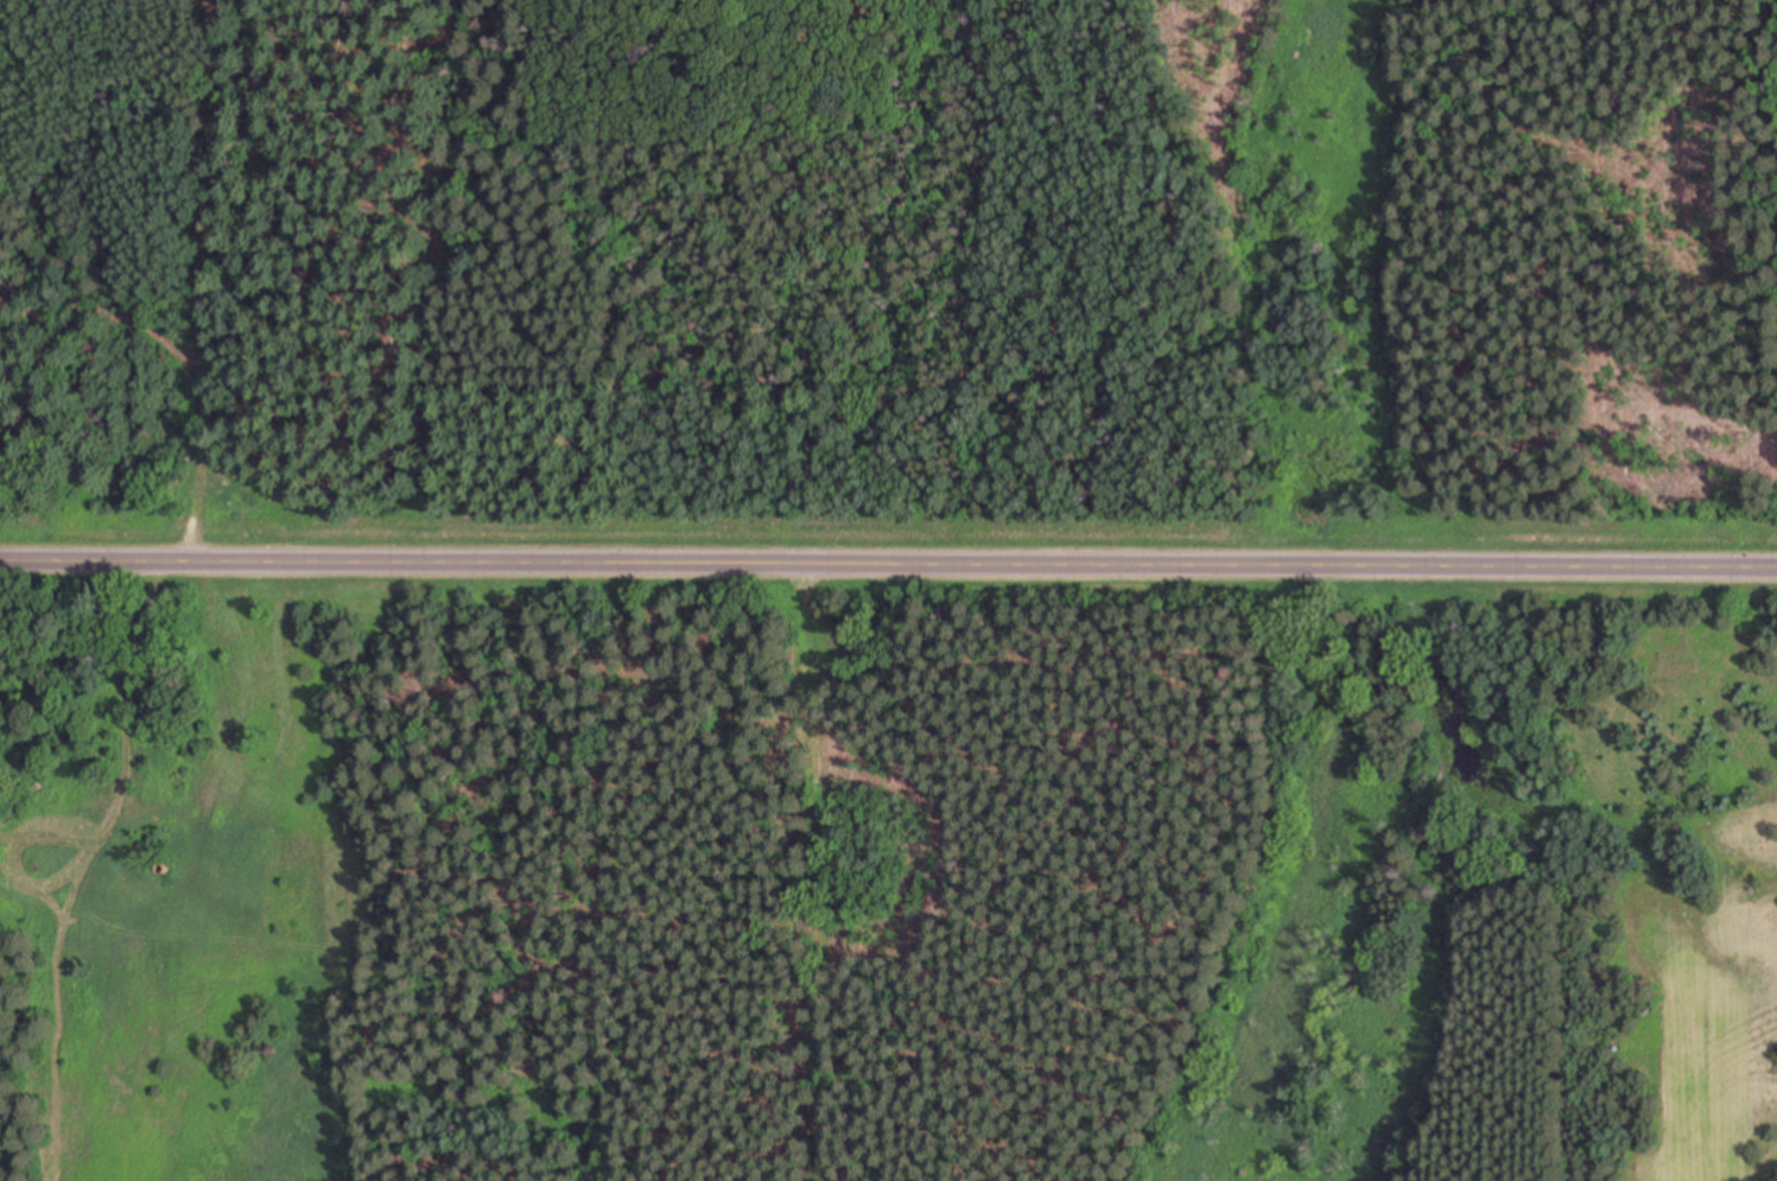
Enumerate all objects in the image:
road: (888, 561)
building: (0, 830)

